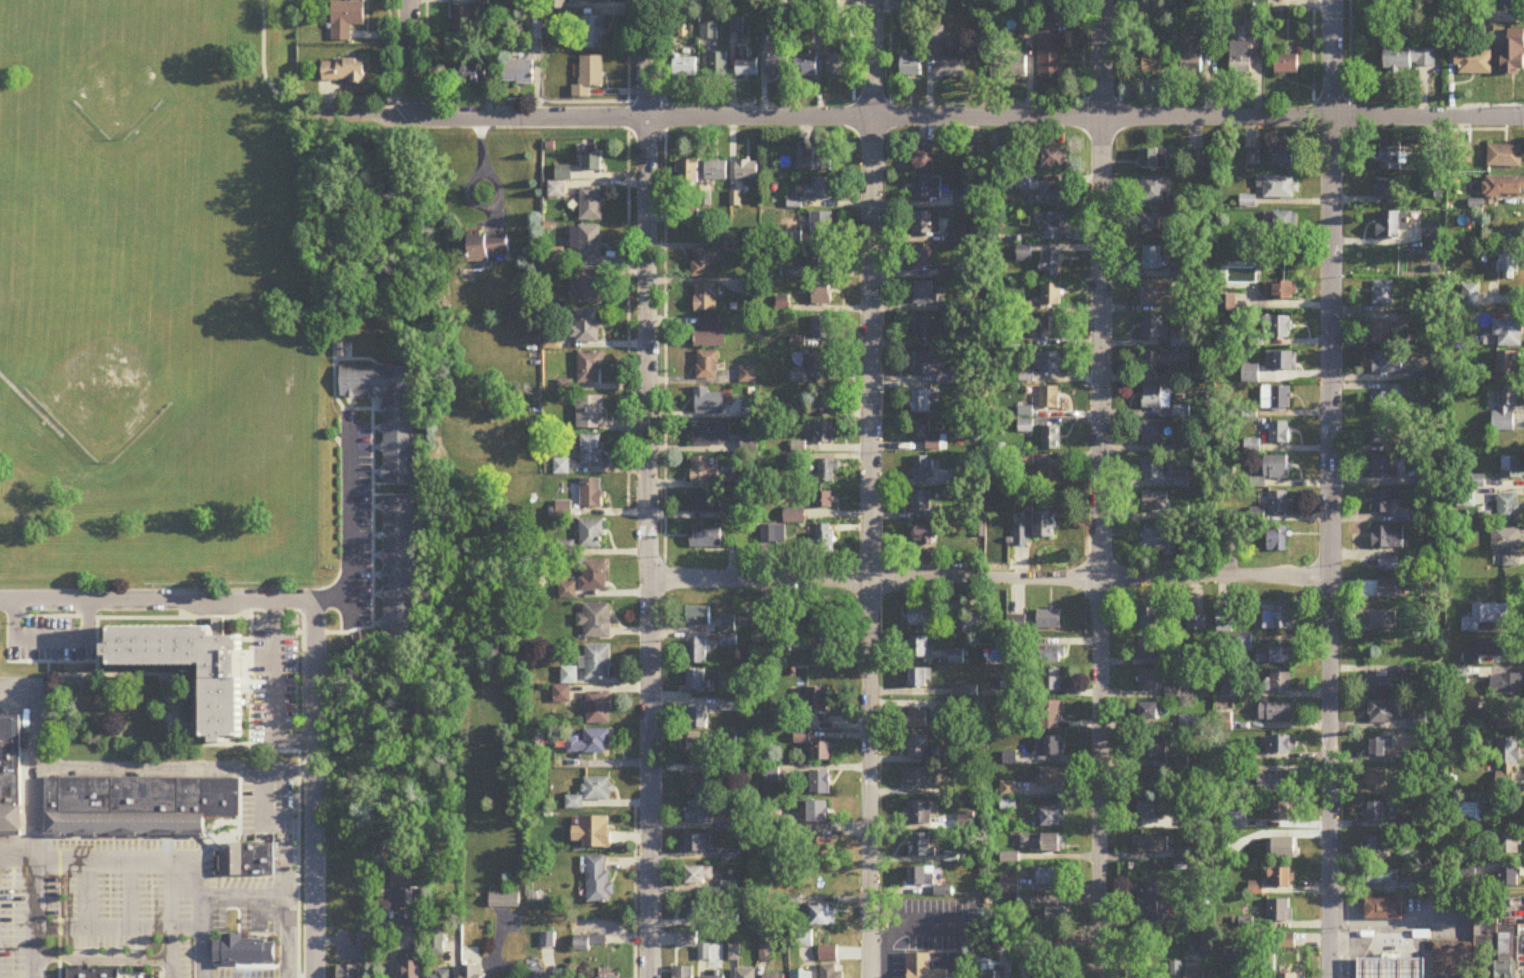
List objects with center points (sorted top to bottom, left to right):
building: (589, 1)
building: (1507, 3)
building: (1162, 7)
building: (910, 10)
building: (346, 20)
building: (463, 22)
building: (534, 30)
building: (708, 31)
building: (593, 33)
building: (1454, 37)
road: (384, 49)
road: (426, 49)
road: (853, 49)
building: (1050, 49)
building: (945, 56)
building: (1514, 56)
road: (262, 58)
road: (408, 58)
building: (1241, 59)
building: (1409, 59)
building: (1192, 62)
building: (1472, 62)
building: (745, 65)
building: (1153, 65)
building: (1286, 65)
building: (718, 66)
building: (806, 66)
building: (836, 66)
road: (889, 66)
building: (778, 67)
building: (685, 68)
building: (911, 68)
building: (1009, 68)
building: (343, 71)
building: (518, 73)
building: (465, 75)
building: (589, 77)
road: (1100, 96)
road: (461, 98)
road: (1329, 98)
road: (645, 99)
road: (909, 120)
building: (998, 157)
building: (1505, 157)
building: (1055, 158)
building: (1252, 158)
building: (1284, 158)
building: (1158, 159)
building: (1390, 160)
building: (814, 161)
building: (923, 162)
building: (593, 163)
building: (716, 172)
building: (746, 172)
building: (564, 174)
building: (688, 174)
building: (1278, 187)
building: (1503, 187)
building: (926, 189)
building: (818, 190)
building: (1152, 190)
building: (1390, 192)
building: (1049, 194)
building: (959, 202)
building: (591, 204)
building: (1285, 221)
building: (1152, 222)
building: (925, 224)
building: (820, 225)
building: (1393, 225)
building: (1055, 227)
building: (587, 242)
building: (486, 248)
building: (555, 257)
building: (821, 258)
building: (1152, 258)
building: (922, 259)
building: (705, 263)
building: (1052, 265)
building: (1509, 265)
building: (588, 287)
building: (1279, 290)
building: (924, 293)
building: (1158, 293)
building: (1382, 293)
building: (821, 294)
building: (1052, 296)
building: (707, 298)
road: (627, 306)
building: (1276, 326)
building: (586, 327)
building: (926, 328)
building: (821, 329)
building: (1045, 329)
building: (1152, 329)
building: (1508, 332)
building: (708, 333)
building: (1381, 334)
building: (1178, 340)
building: (1281, 361)
building: (921, 363)
building: (1047, 363)
building: (1386, 363)
building: (1507, 363)
building: (1161, 364)
building: (818, 365)
building: (707, 366)
building: (589, 368)
building: (824, 398)
building: (1275, 398)
building: (1049, 399)
building: (1154, 399)
building: (708, 403)
building: (921, 403)
building: (1380, 404)
road: (29, 405)
building: (1506, 409)
building: (1181, 412)
building: (590, 413)
building: (388, 415)
road: (42, 422)
building: (1381, 432)
building: (823, 433)
building: (1279, 433)
building: (710, 434)
building: (1151, 434)
building: (925, 436)
building: (1050, 439)
building: (591, 452)
building: (1276, 468)
building: (1382, 468)
building: (1513, 468)
building: (923, 470)
building: (1151, 470)
building: (703, 471)
building: (827, 472)
building: (1048, 478)
road: (409, 488)
road: (869, 488)
road: (1100, 488)
road: (1327, 488)
road: (646, 489)
building: (591, 494)
building: (823, 501)
building: (1154, 501)
building: (1383, 502)
building: (1278, 503)
building: (706, 504)
building: (925, 507)
building: (1509, 508)
road: (607, 511)
road: (371, 516)
building: (794, 516)
road: (347, 523)
building: (1044, 527)
building: (773, 535)
building: (591, 536)
building: (924, 536)
building: (1021, 537)
building: (706, 538)
building: (1387, 538)
building: (1277, 540)
building: (1157, 541)
building: (822, 544)
building: (1508, 545)
building: (1387, 565)
building: (397, 568)
building: (594, 577)
road: (987, 580)
building: (1387, 590)
road: (330, 599)
road: (111, 617)
road: (216, 617)
road: (236, 617)
building: (698, 617)
building: (1486, 617)
building: (1147, 619)
building: (1277, 619)
building: (926, 620)
building: (1048, 620)
building: (1380, 622)
building: (596, 623)
building: (973, 624)
building: (1223, 624)
building: (216, 625)
building: (728, 625)
road: (217, 626)
road: (314, 631)
road: (50, 638)
road: (96, 646)
building: (920, 649)
building: (1148, 649)
building: (1486, 649)
building: (697, 653)
building: (824, 655)
building: (1051, 656)
building: (1274, 656)
building: (994, 657)
building: (956, 658)
road: (50, 661)
building: (596, 664)
road: (182, 674)
building: (921, 679)
building: (1051, 681)
building: (1151, 681)
building: (1278, 681)
building: (696, 682)
building: (1381, 685)
building: (1506, 685)
road: (47, 686)
road: (272, 691)
building: (1233, 691)
building: (963, 692)
building: (1172, 693)
building: (817, 700)
building: (220, 707)
building: (598, 709)
building: (1149, 713)
building: (1277, 713)
building: (1384, 713)
building: (1051, 717)
building: (1503, 717)
building: (697, 719)
building: (918, 721)
building: (591, 744)
building: (1283, 746)
building: (917, 747)
building: (1050, 747)
building: (1379, 748)
building: (1150, 749)
building: (697, 750)
building: (822, 752)
road: (23, 760)
building: (1507, 761)
road: (297, 764)
road: (149, 770)
building: (9, 771)
building: (917, 778)
building: (1052, 778)
building: (1379, 779)
building: (699, 783)
building: (819, 783)
building: (1277, 785)
building: (592, 793)
building: (136, 804)
building: (1150, 812)
building: (1283, 812)
building: (700, 813)
building: (817, 813)
building: (921, 813)
building: (1377, 814)
building: (1472, 816)
building: (20, 817)
road: (238, 817)
building: (1051, 819)
road: (34, 820)
road: (217, 822)
road: (10, 831)
road: (33, 833)
building: (592, 835)
road: (100, 836)
building: (1042, 843)
building: (699, 845)
building: (1149, 846)
building: (921, 847)
building: (1508, 847)
building: (819, 848)
building: (1375, 848)
road: (284, 853)
building: (245, 859)
road: (116, 861)
building: (216, 862)
road: (216, 862)
road: (217, 862)
building: (700, 878)
building: (921, 878)
building: (1049, 878)
building: (1379, 878)
building: (1280, 879)
building: (1509, 879)
building: (599, 881)
road: (216, 885)
road: (58, 886)
building: (1410, 889)
road: (634, 890)
road: (1362, 891)
road: (85, 893)
road: (129, 894)
building: (407, 900)
building: (504, 902)
building: (1150, 907)
building: (694, 911)
building: (1384, 911)
building: (1279, 912)
building: (1056, 917)
building: (821, 918)
building: (230, 921)
road: (118, 926)
road: (1346, 934)
road: (202, 936)
building: (688, 941)
building: (1286, 943)
building: (435, 944)
road: (1380, 945)
building: (589, 946)
building: (1479, 948)
building: (242, 950)
road: (169, 951)
building: (704, 953)
building: (828, 955)
road: (58, 957)
road: (100, 960)
road: (1353, 961)
building: (1236, 963)
road: (244, 966)
building: (936, 966)
building: (1393, 967)
road: (1421, 967)
road: (119, 969)
building: (411, 970)
building: (1028, 971)
building: (91, 972)
road: (214, 972)
road: (275, 972)
building: (348, 972)
building: (472, 972)
building: (831, 972)
building: (1061, 972)
building: (683, 973)
road: (132, 974)
building: (442, 974)
building: (745, 974)
building: (984, 974)
building: (1194, 974)
building: (538, 975)
building: (801, 975)
road: (132, 976)
building: (1288, 976)
building: (714, 977)
building: (774, 977)

